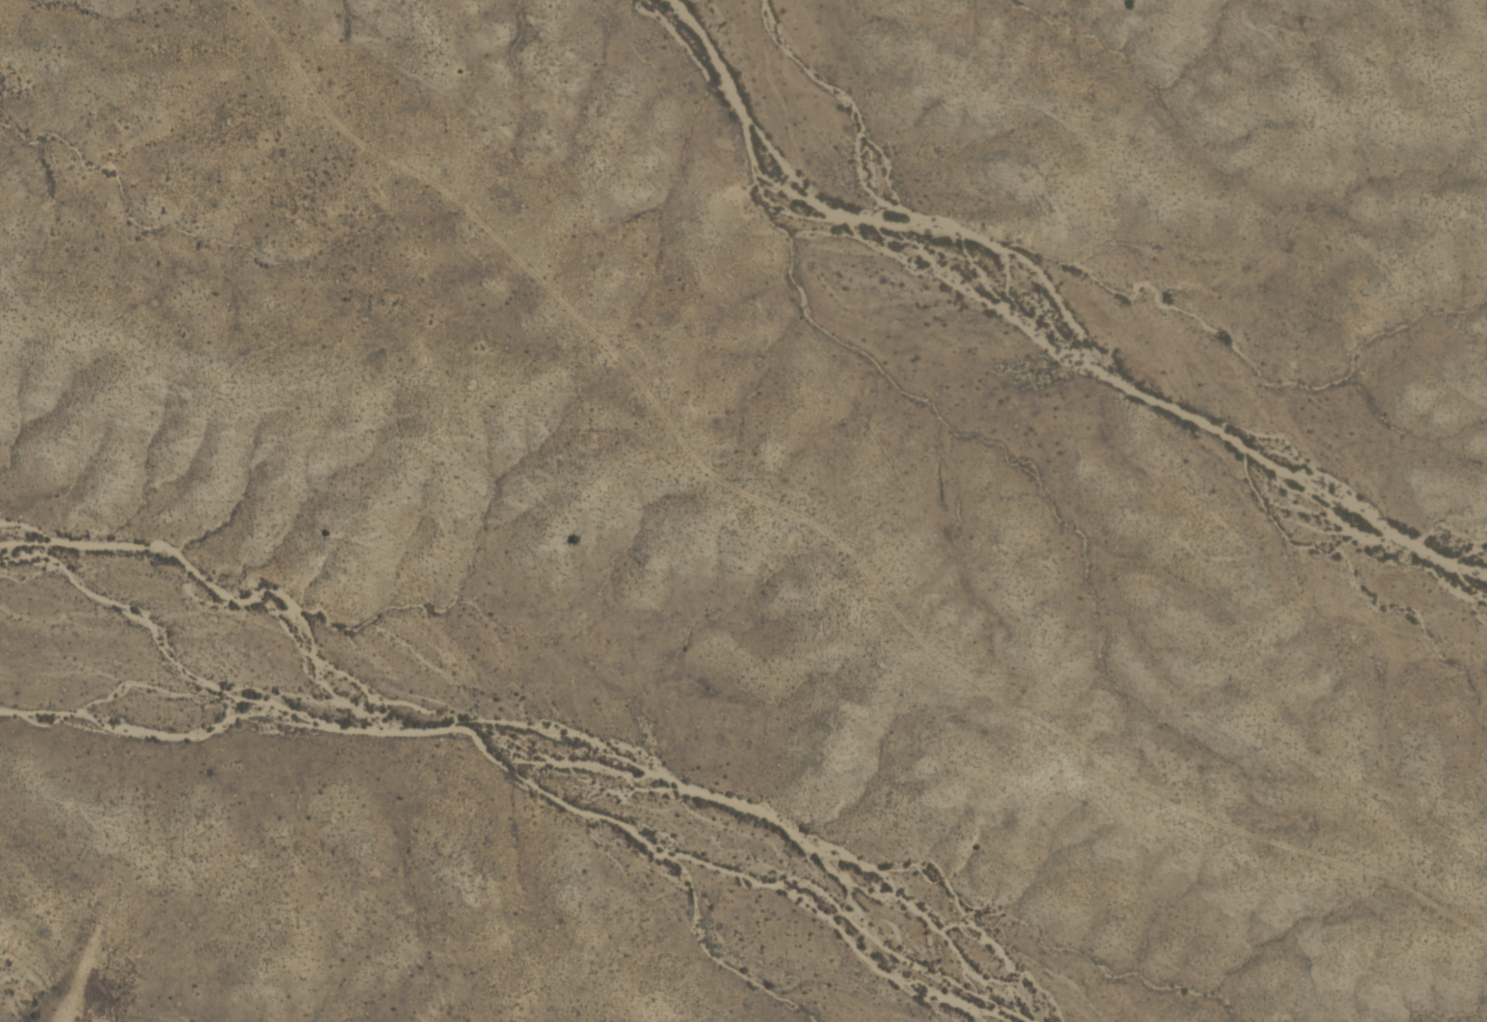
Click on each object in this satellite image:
road: (822, 528)
dam: (73, 1000)

